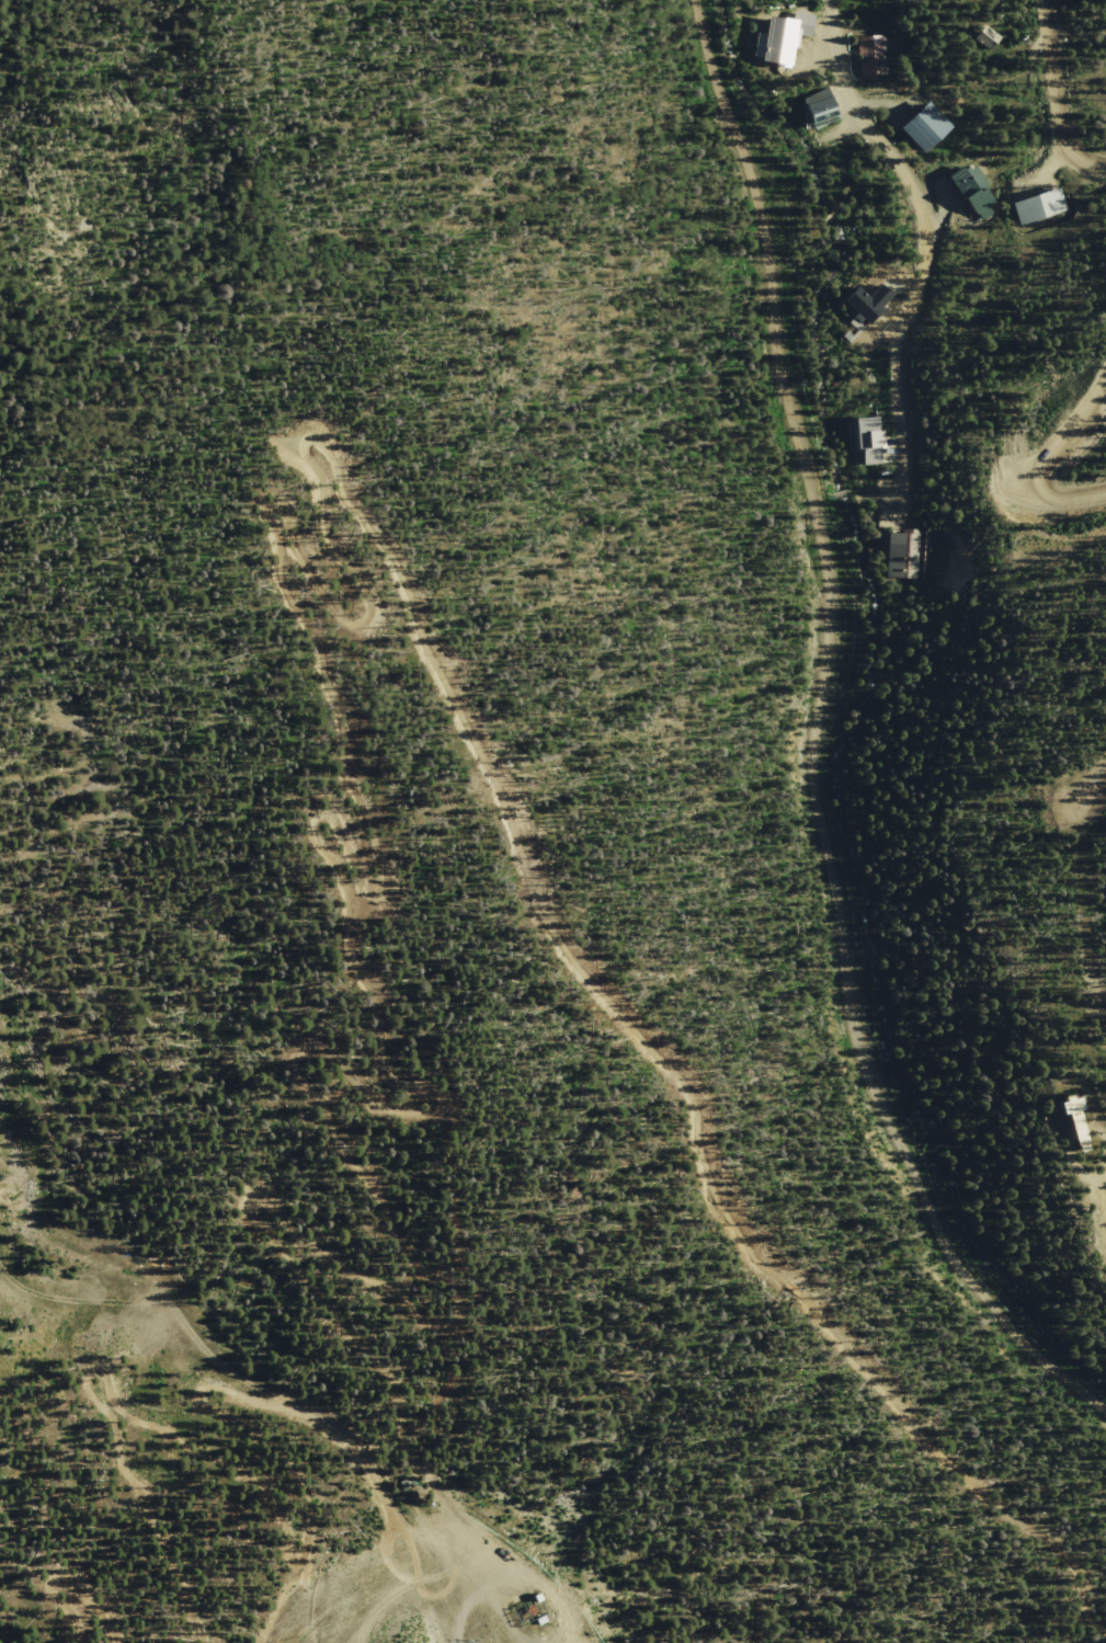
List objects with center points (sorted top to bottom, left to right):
building: (786, 36)
building: (989, 38)
building: (874, 56)
road: (1054, 98)
building: (825, 117)
building: (927, 128)
building: (976, 193)
building: (1040, 206)
road: (924, 242)
building: (864, 299)
road: (1073, 438)
building: (869, 442)
road: (1070, 497)
building: (892, 511)
building: (903, 555)
road: (308, 648)
road: (843, 730)
road: (1087, 787)
ski resort: (475, 880)
building: (1070, 1118)
road: (57, 1337)
road: (292, 1480)
road: (164, 1558)
road: (67, 1573)
road: (489, 1611)
road: (549, 1617)
building: (538, 1620)
road: (196, 1636)
aerialway pylon: (474, 1642)

